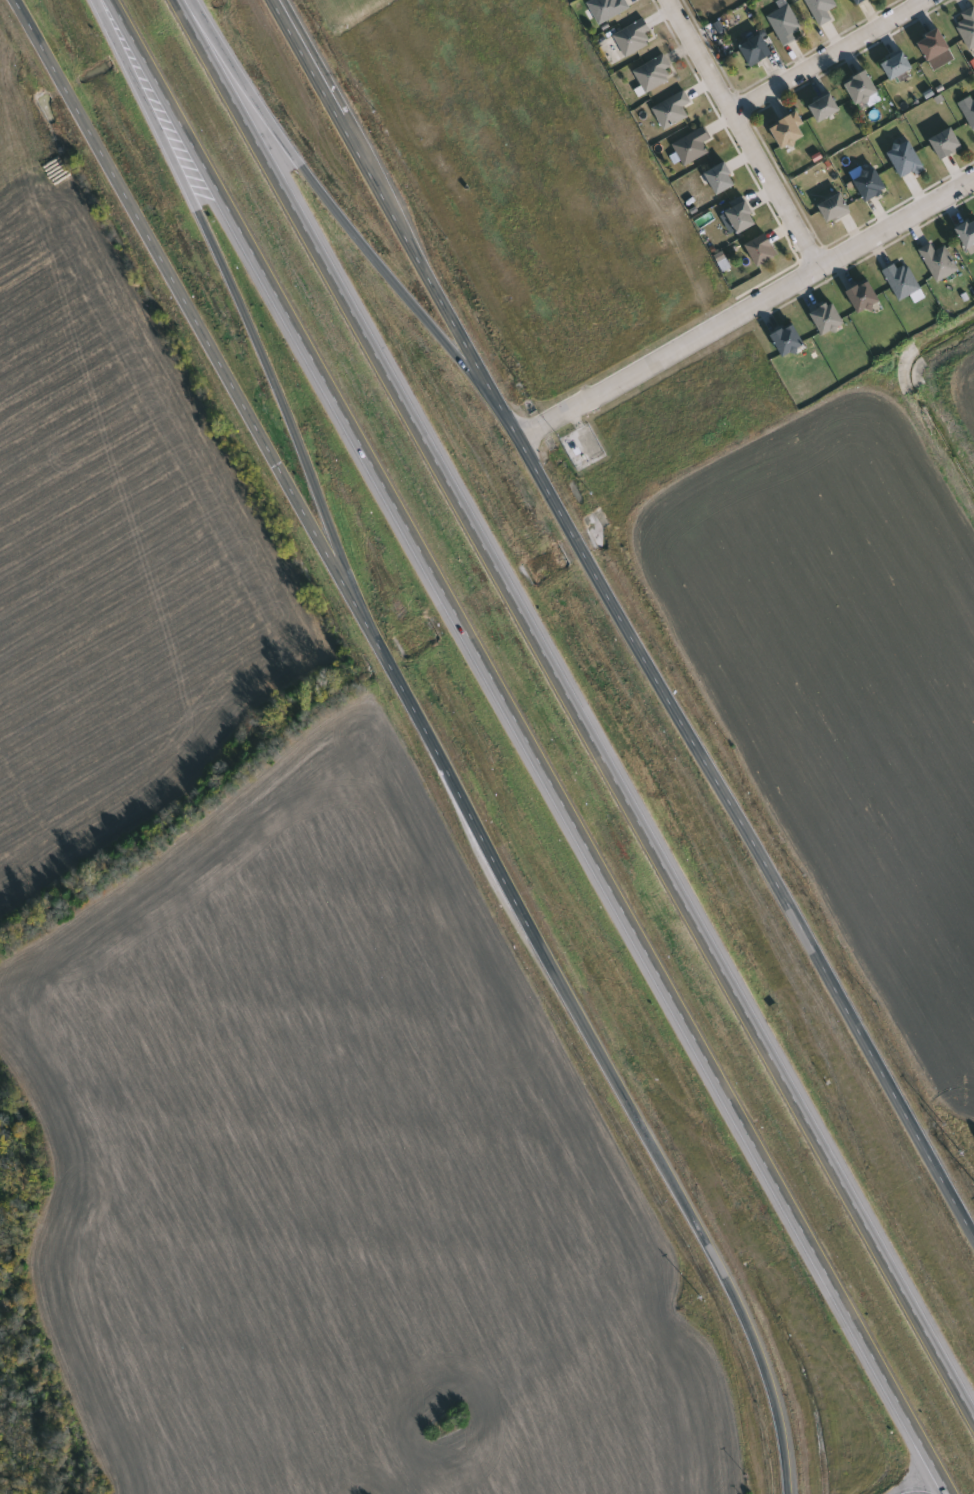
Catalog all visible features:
road: (933, 0)
building: (859, 1)
building: (611, 8)
building: (823, 9)
building: (788, 24)
building: (967, 27)
building: (636, 38)
building: (933, 45)
building: (757, 50)
road: (837, 56)
building: (899, 69)
building: (656, 74)
building: (862, 88)
building: (825, 108)
building: (970, 109)
building: (674, 110)
building: (788, 132)
road: (750, 134)
building: (946, 144)
building: (695, 146)
building: (906, 160)
building: (722, 179)
building: (871, 184)
road: (330, 200)
building: (835, 209)
building: (742, 218)
building: (967, 236)
building: (762, 250)
building: (940, 262)
road: (231, 279)
building: (903, 281)
building: (863, 297)
road: (747, 310)
building: (827, 319)
building: (788, 341)
road: (620, 618)
road: (575, 709)
road: (431, 736)
road: (531, 746)
road: (911, 1493)

